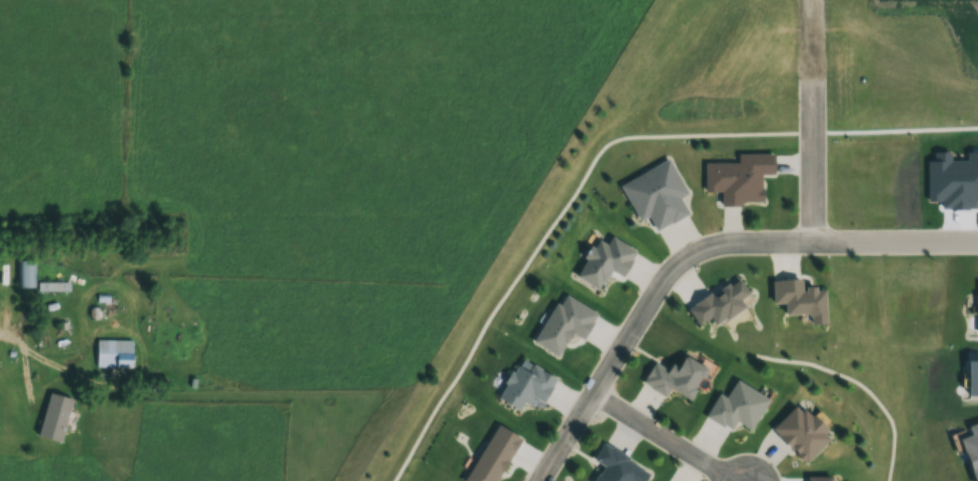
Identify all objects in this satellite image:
road: (811, 121)
road: (598, 154)
building: (739, 177)
crop: (301, 185)
building: (656, 194)
road: (698, 252)
building: (604, 261)
building: (25, 273)
building: (19, 279)
building: (53, 286)
building: (799, 298)
building: (718, 302)
building: (564, 324)
road: (696, 338)
road: (33, 356)
building: (107, 357)
building: (674, 377)
road: (858, 383)
building: (525, 385)
building: (737, 406)
building: (47, 421)
building: (800, 432)
road: (664, 437)
building: (492, 455)
building: (614, 465)
crop: (44, 470)
building: (818, 478)

